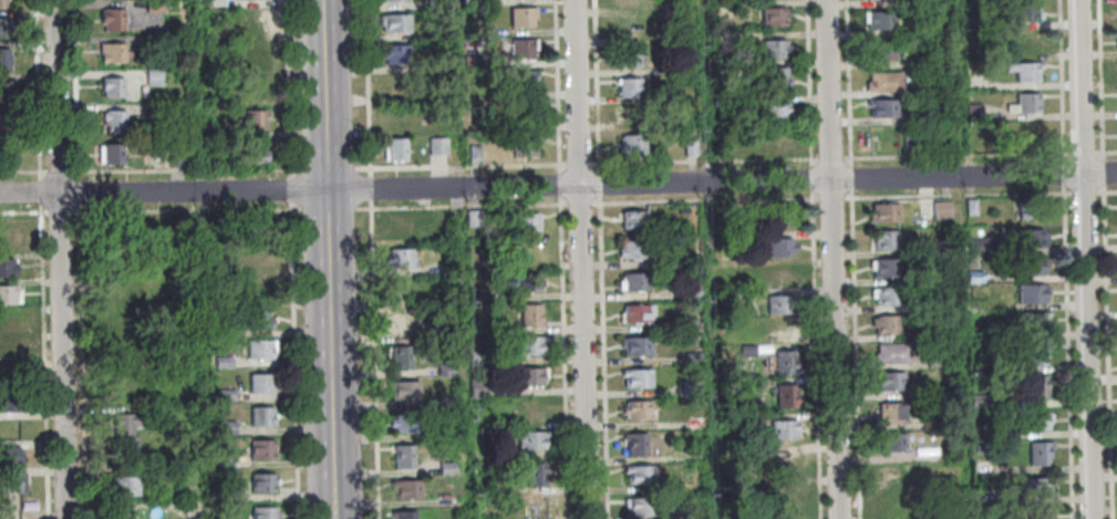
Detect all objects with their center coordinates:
building: (393, 1)
building: (625, 2)
building: (880, 2)
building: (4, 3)
building: (436, 4)
building: (154, 7)
building: (524, 15)
building: (1028, 15)
building: (773, 17)
building: (113, 19)
building: (250, 23)
building: (395, 23)
building: (883, 23)
building: (6, 27)
building: (627, 27)
building: (939, 32)
building: (718, 39)
building: (523, 49)
building: (775, 49)
building: (114, 53)
building: (883, 53)
building: (397, 55)
building: (254, 56)
building: (629, 56)
building: (6, 61)
building: (720, 71)
building: (1024, 74)
building: (155, 77)
building: (777, 79)
building: (524, 80)
building: (113, 85)
building: (886, 86)
building: (252, 87)
building: (628, 87)
building: (7, 91)
building: (721, 102)
building: (1030, 106)
building: (154, 111)
building: (525, 112)
building: (883, 112)
building: (776, 113)
building: (631, 114)
building: (938, 115)
building: (255, 118)
building: (115, 121)
building: (6, 123)
building: (1032, 134)
building: (776, 139)
building: (521, 145)
building: (631, 145)
building: (438, 147)
building: (690, 148)
building: (395, 149)
building: (113, 153)
building: (255, 153)
building: (476, 154)
building: (177, 159)
road: (558, 185)
building: (971, 207)
building: (941, 210)
building: (885, 211)
building: (1030, 211)
building: (474, 218)
building: (633, 219)
building: (525, 222)
road: (325, 225)
building: (258, 227)
building: (397, 227)
building: (10, 237)
building: (1031, 238)
building: (886, 239)
building: (782, 247)
building: (973, 247)
building: (632, 249)
building: (114, 251)
building: (528, 251)
building: (258, 258)
building: (401, 258)
road: (59, 259)
road: (579, 259)
road: (707, 259)
road: (831, 259)
road: (961, 259)
road: (1083, 259)
building: (687, 260)
building: (1033, 266)
building: (887, 267)
building: (8, 268)
building: (941, 274)
building: (780, 276)
building: (975, 277)
building: (634, 281)
building: (528, 282)
building: (259, 289)
building: (692, 291)
building: (1031, 293)
building: (9, 294)
building: (746, 295)
building: (888, 295)
building: (780, 305)
building: (639, 312)
building: (531, 315)
building: (260, 320)
building: (10, 321)
building: (1032, 321)
building: (400, 323)
building: (886, 324)
building: (122, 325)
building: (692, 328)
building: (221, 332)
building: (782, 332)
building: (944, 334)
building: (978, 334)
building: (529, 344)
building: (637, 345)
building: (9, 347)
building: (260, 350)
building: (747, 351)
building: (892, 354)
building: (1036, 354)
building: (402, 357)
building: (478, 359)
building: (693, 359)
building: (935, 361)
building: (785, 362)
building: (224, 363)
building: (446, 370)
building: (9, 374)
building: (530, 376)
building: (638, 377)
building: (890, 381)
building: (262, 384)
building: (691, 387)
building: (1037, 387)
building: (478, 388)
building: (405, 390)
building: (127, 392)
building: (786, 395)
building: (226, 396)
building: (10, 401)
building: (447, 403)
building: (638, 409)
building: (890, 412)
building: (261, 416)
building: (1034, 421)
building: (405, 423)
building: (695, 423)
building: (931, 423)
building: (227, 428)
building: (126, 429)
building: (783, 429)
building: (994, 434)
building: (446, 435)
building: (531, 439)
building: (891, 442)
building: (637, 444)
building: (262, 449)
building: (1040, 453)
building: (11, 456)
building: (404, 456)
building: (788, 461)
building: (227, 463)
building: (448, 467)
building: (166, 473)
building: (532, 474)
building: (640, 474)
building: (893, 475)
building: (10, 481)
building: (263, 482)
building: (126, 485)
road: (332, 485)
building: (500, 487)
building: (1036, 487)
building: (407, 488)
building: (788, 494)
building: (228, 496)
building: (528, 506)
building: (893, 506)
building: (642, 507)
building: (122, 512)
building: (265, 512)
building: (1038, 512)
building: (404, 513)
building: (788, 518)

